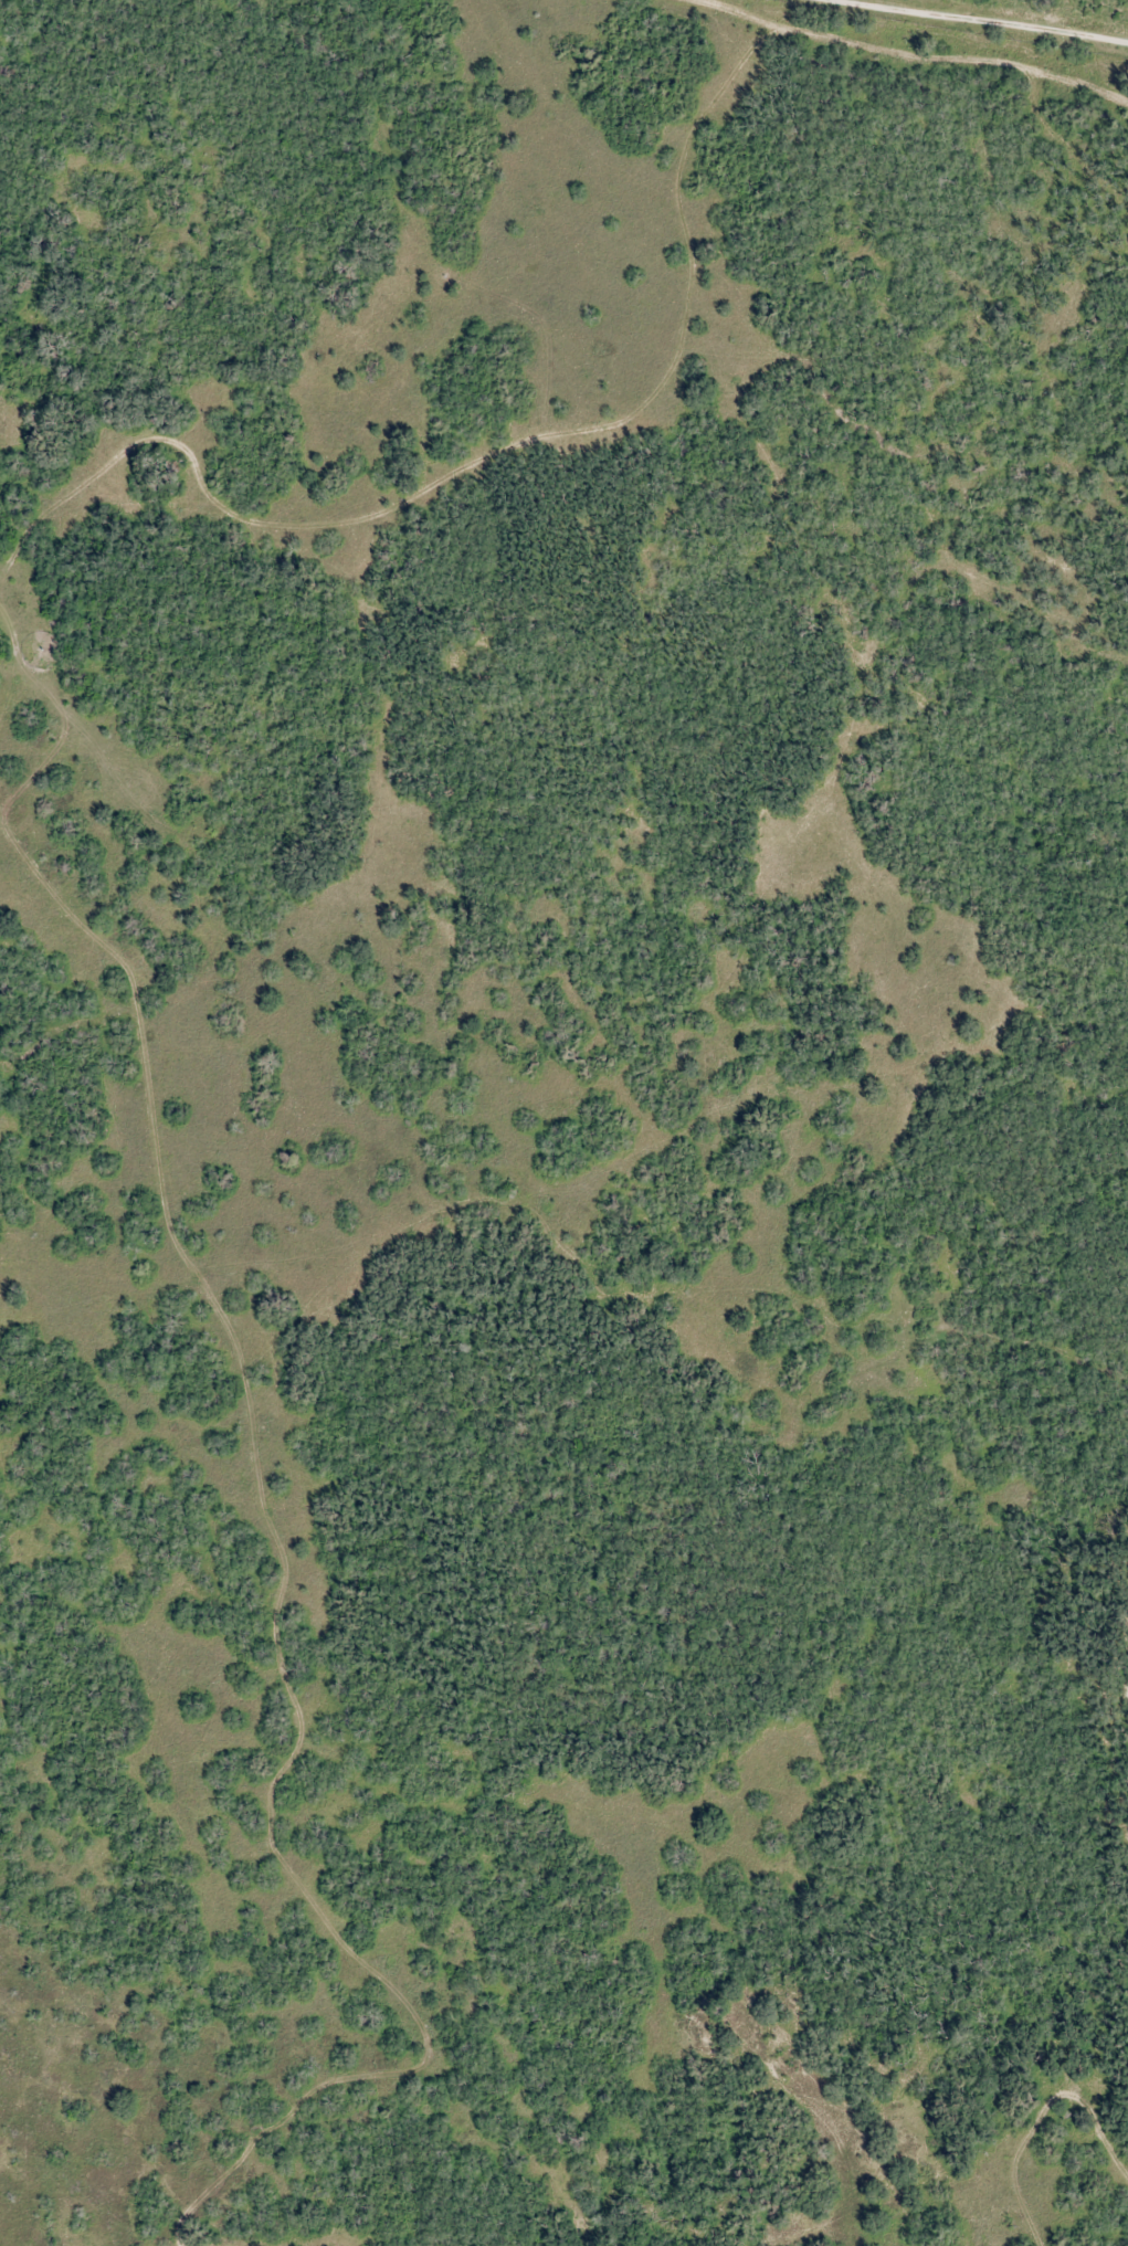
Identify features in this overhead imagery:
road: (1029, 18)

